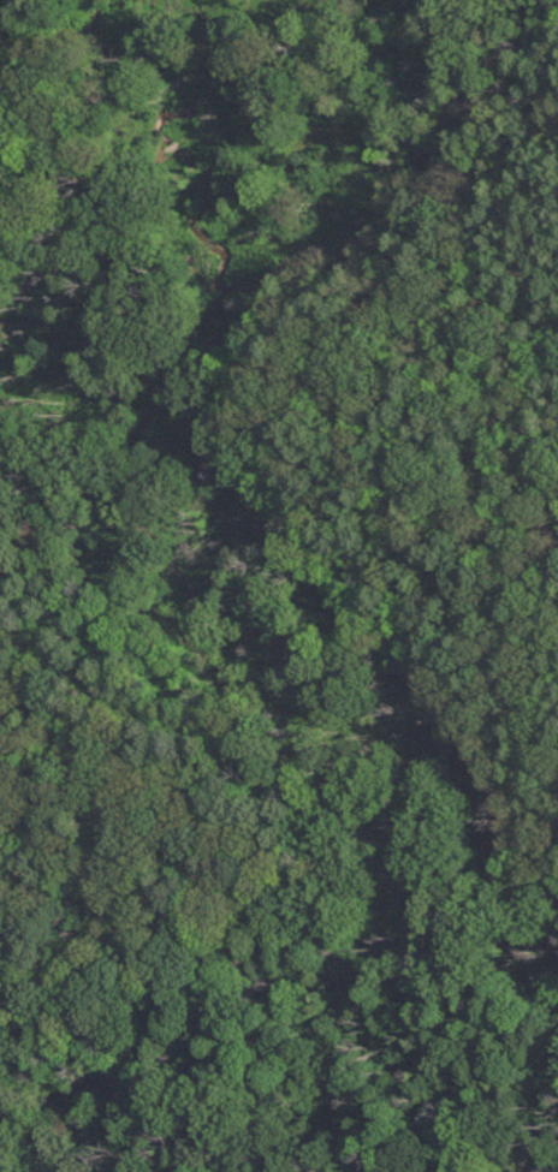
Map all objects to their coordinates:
road: (528, 11)
road: (297, 46)
road: (73, 69)
road: (185, 77)
road: (171, 147)
road: (93, 156)
road: (475, 183)
road: (527, 215)
road: (91, 242)
road: (518, 291)
road: (355, 374)
road: (106, 779)

